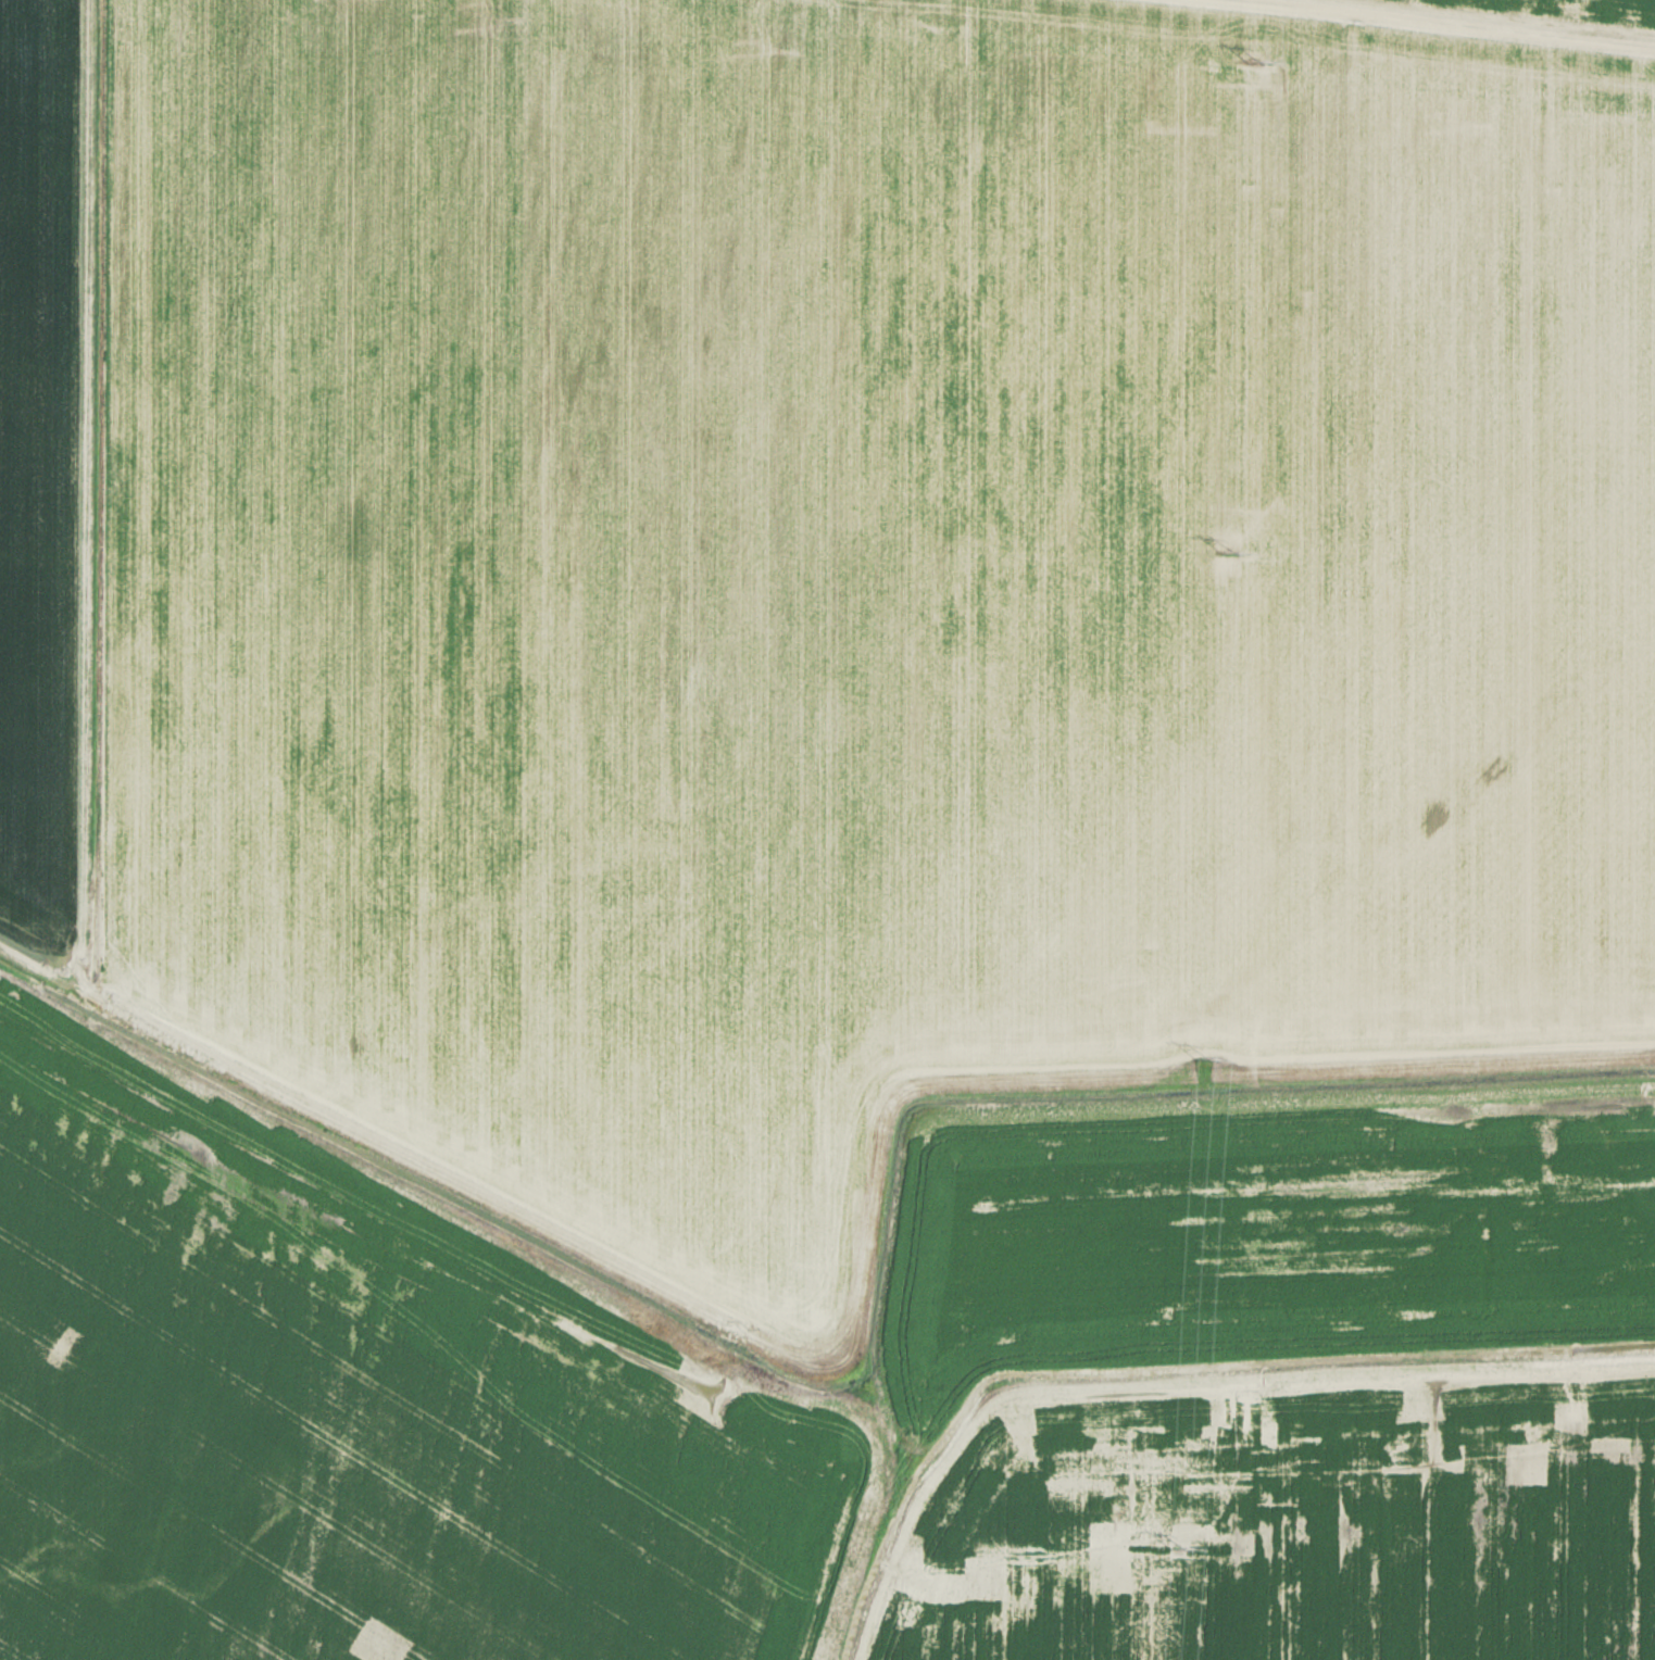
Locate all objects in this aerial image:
power tower: (1258, 65)
power tower: (1232, 553)
power tower: (1206, 1057)
power tower: (1183, 1548)

